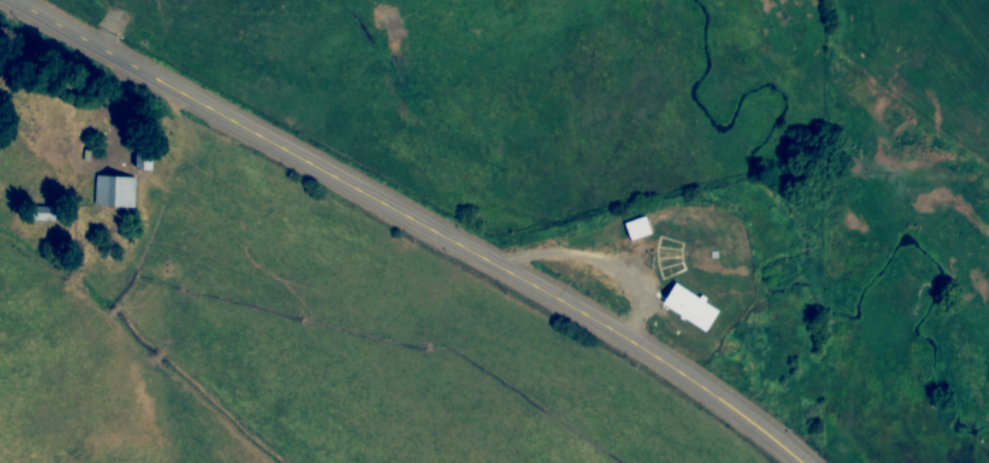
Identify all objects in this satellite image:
building: (143, 159)
building: (113, 192)
building: (45, 214)
road: (410, 221)
building: (636, 229)
building: (691, 310)

